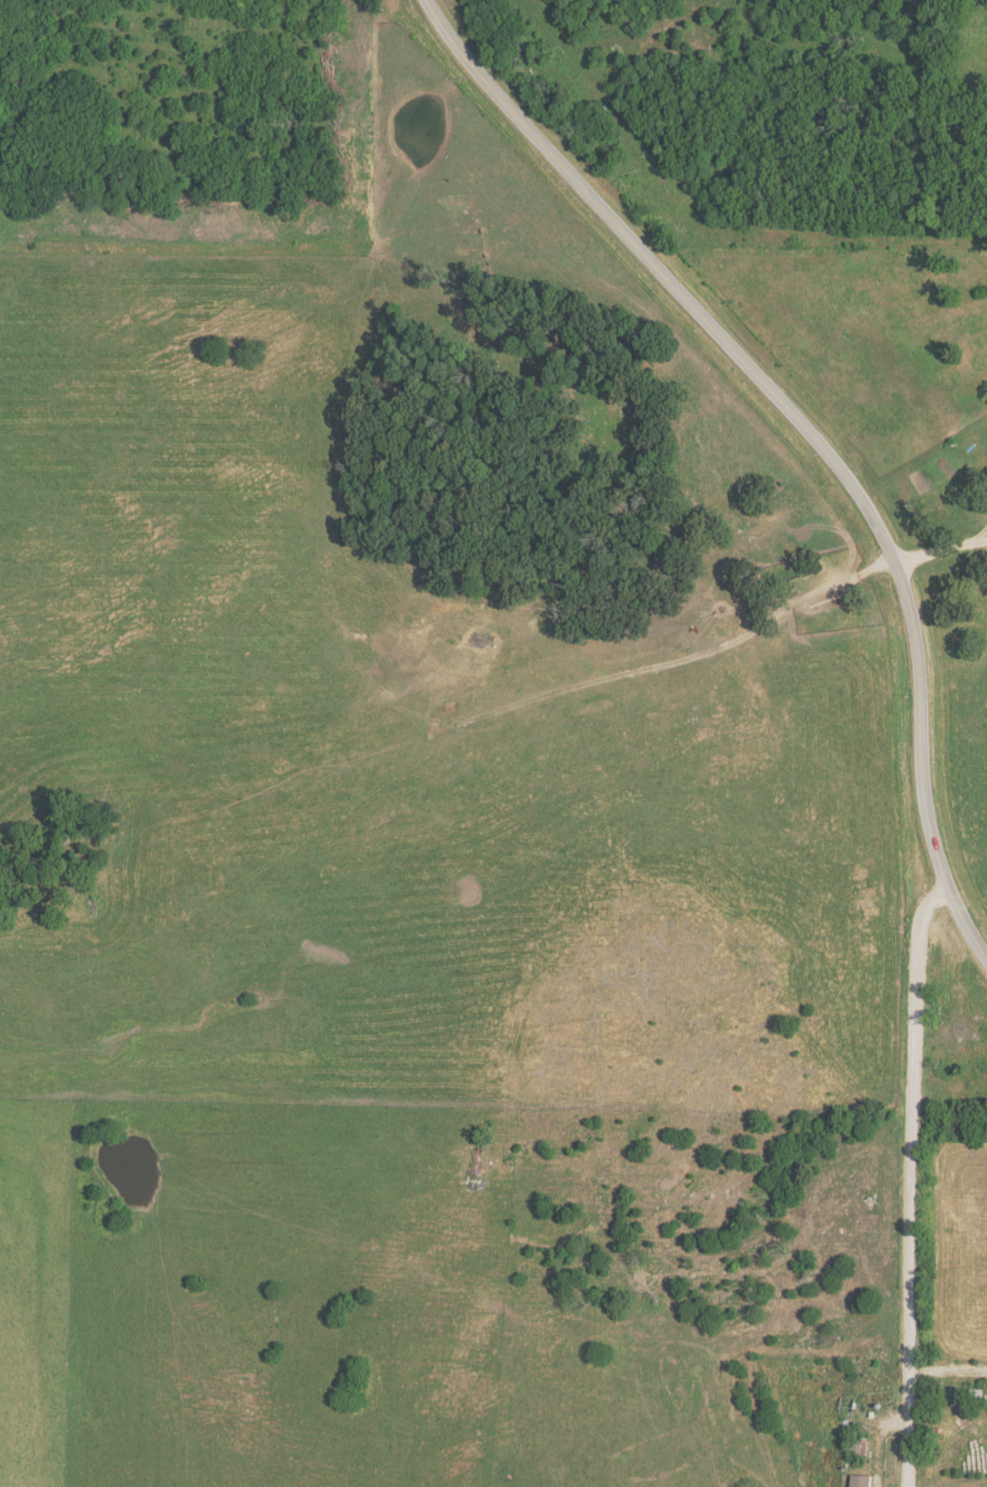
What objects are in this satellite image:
road: (805, 432)
road: (978, 535)
road: (977, 541)
road: (931, 553)
road: (910, 1183)
building: (847, 1407)
building: (858, 1443)

